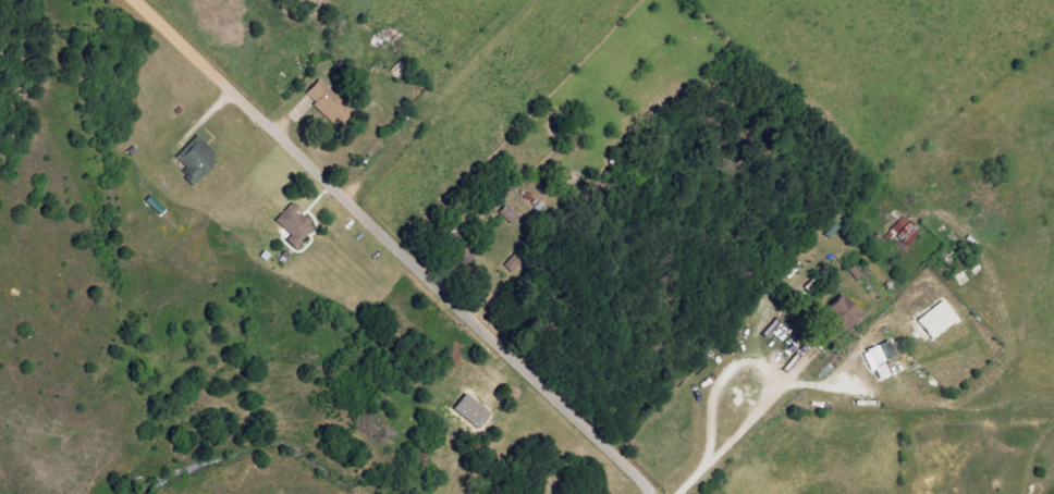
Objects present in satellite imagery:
building: (327, 103)
building: (195, 161)
building: (507, 214)
building: (293, 225)
road: (396, 245)
building: (458, 245)
building: (839, 312)
building: (935, 320)
building: (878, 359)
building: (470, 411)
road: (727, 445)

